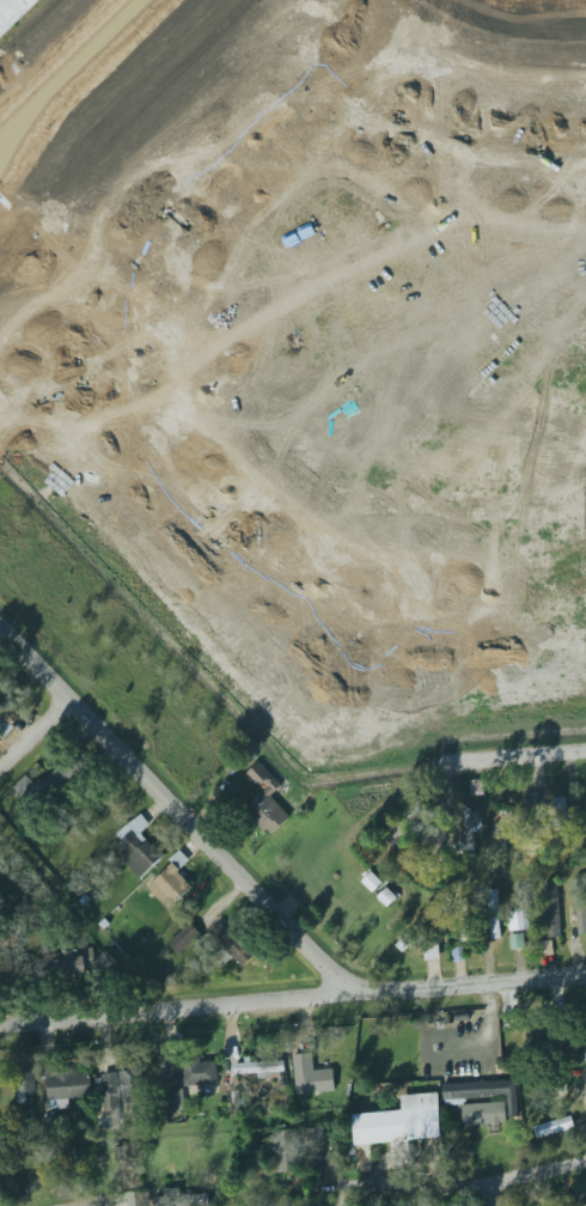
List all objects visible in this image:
building: (13, 12)
road: (135, 334)
road: (62, 376)
road: (470, 395)
road: (355, 659)
building: (7, 715)
road: (36, 732)
road: (519, 760)
building: (48, 782)
building: (477, 787)
building: (267, 803)
building: (529, 810)
road: (178, 812)
building: (470, 829)
building: (501, 829)
building: (405, 832)
building: (138, 848)
building: (569, 872)
building: (539, 876)
building: (171, 883)
building: (387, 897)
building: (581, 903)
building: (553, 908)
building: (520, 913)
building: (494, 914)
building: (465, 921)
building: (184, 938)
building: (517, 940)
building: (232, 944)
building: (547, 948)
building: (432, 952)
building: (71, 963)
road: (293, 1007)
building: (261, 1068)
building: (200, 1072)
building: (312, 1077)
building: (25, 1082)
building: (133, 1085)
building: (68, 1088)
building: (483, 1094)
building: (175, 1100)
building: (111, 1101)
building: (484, 1114)
building: (401, 1120)
building: (57, 1125)
building: (555, 1127)
building: (285, 1151)
road: (468, 1186)
road: (346, 1195)
road: (490, 1195)
building: (171, 1198)
road: (97, 1205)
road: (104, 1205)
building: (584, 1205)

